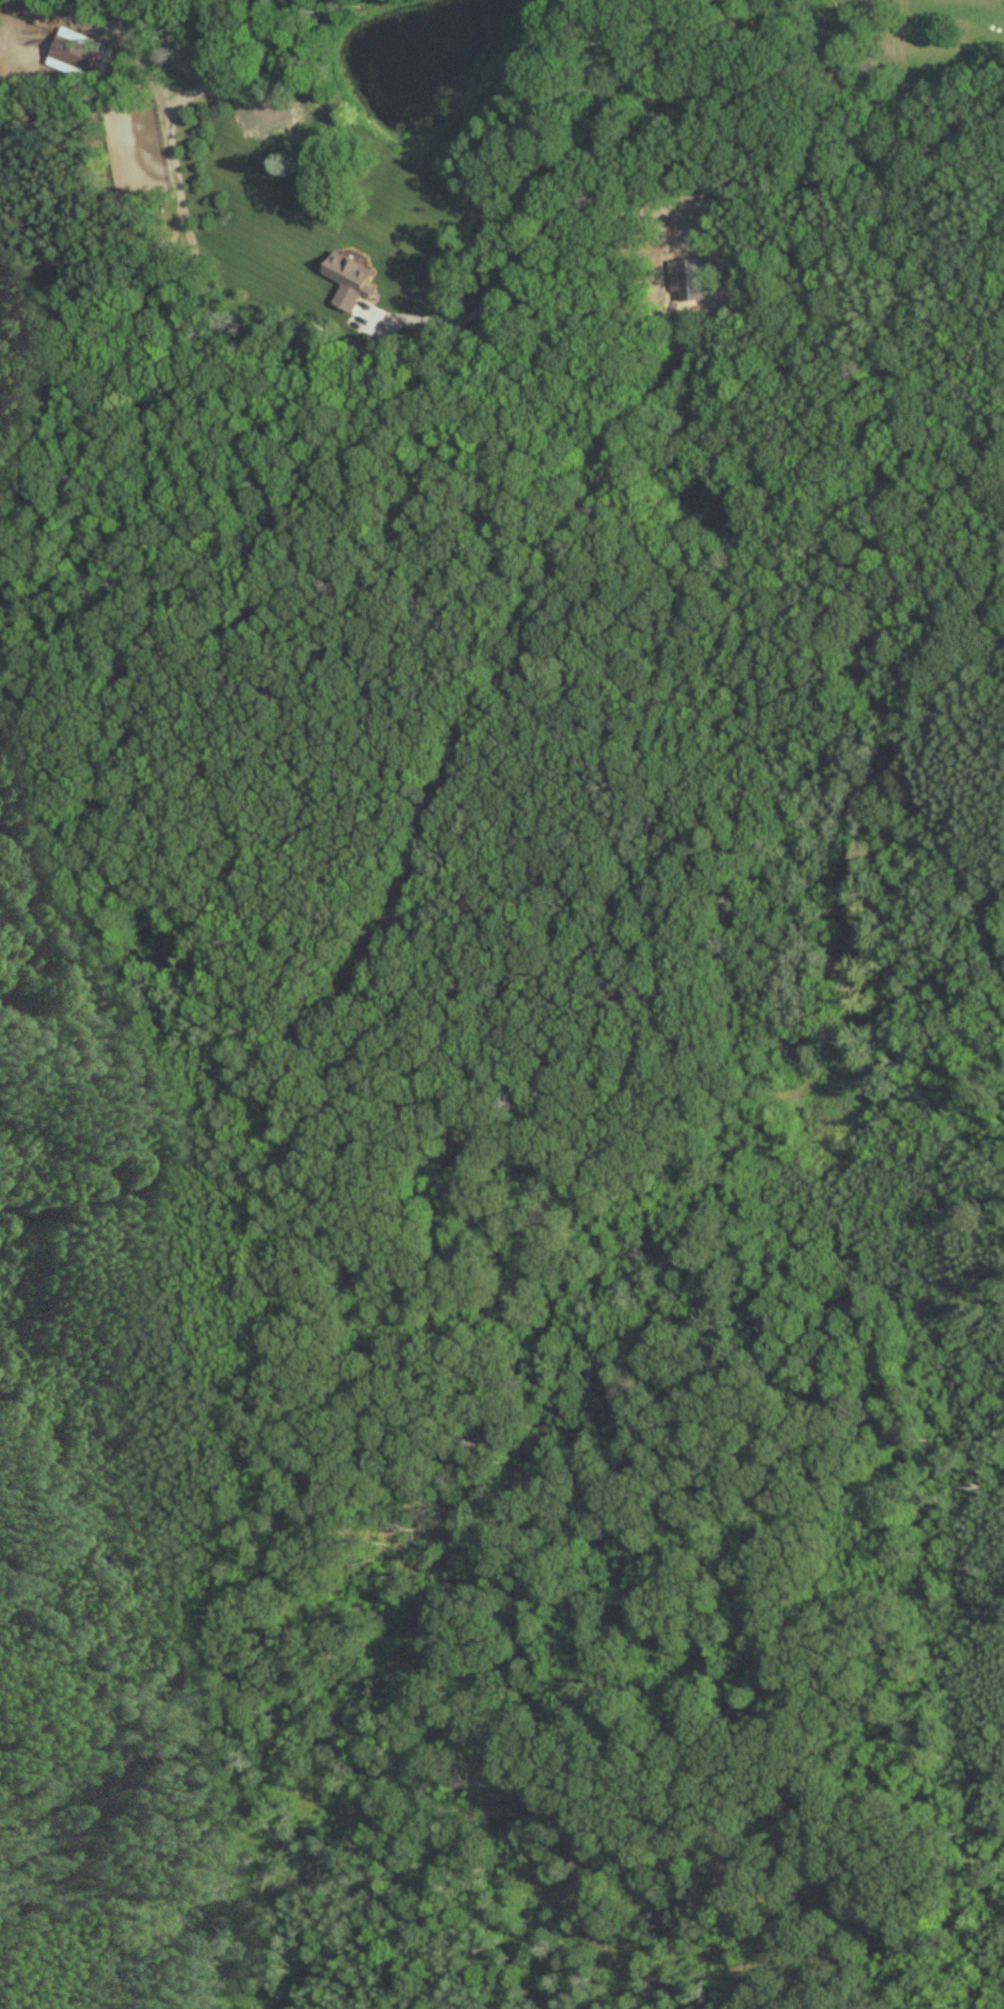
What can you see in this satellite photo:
road: (21, 43)
building: (79, 51)
building: (258, 123)
road: (676, 204)
road: (194, 250)
road: (102, 266)
building: (358, 277)
road: (451, 795)
road: (15, 1213)

